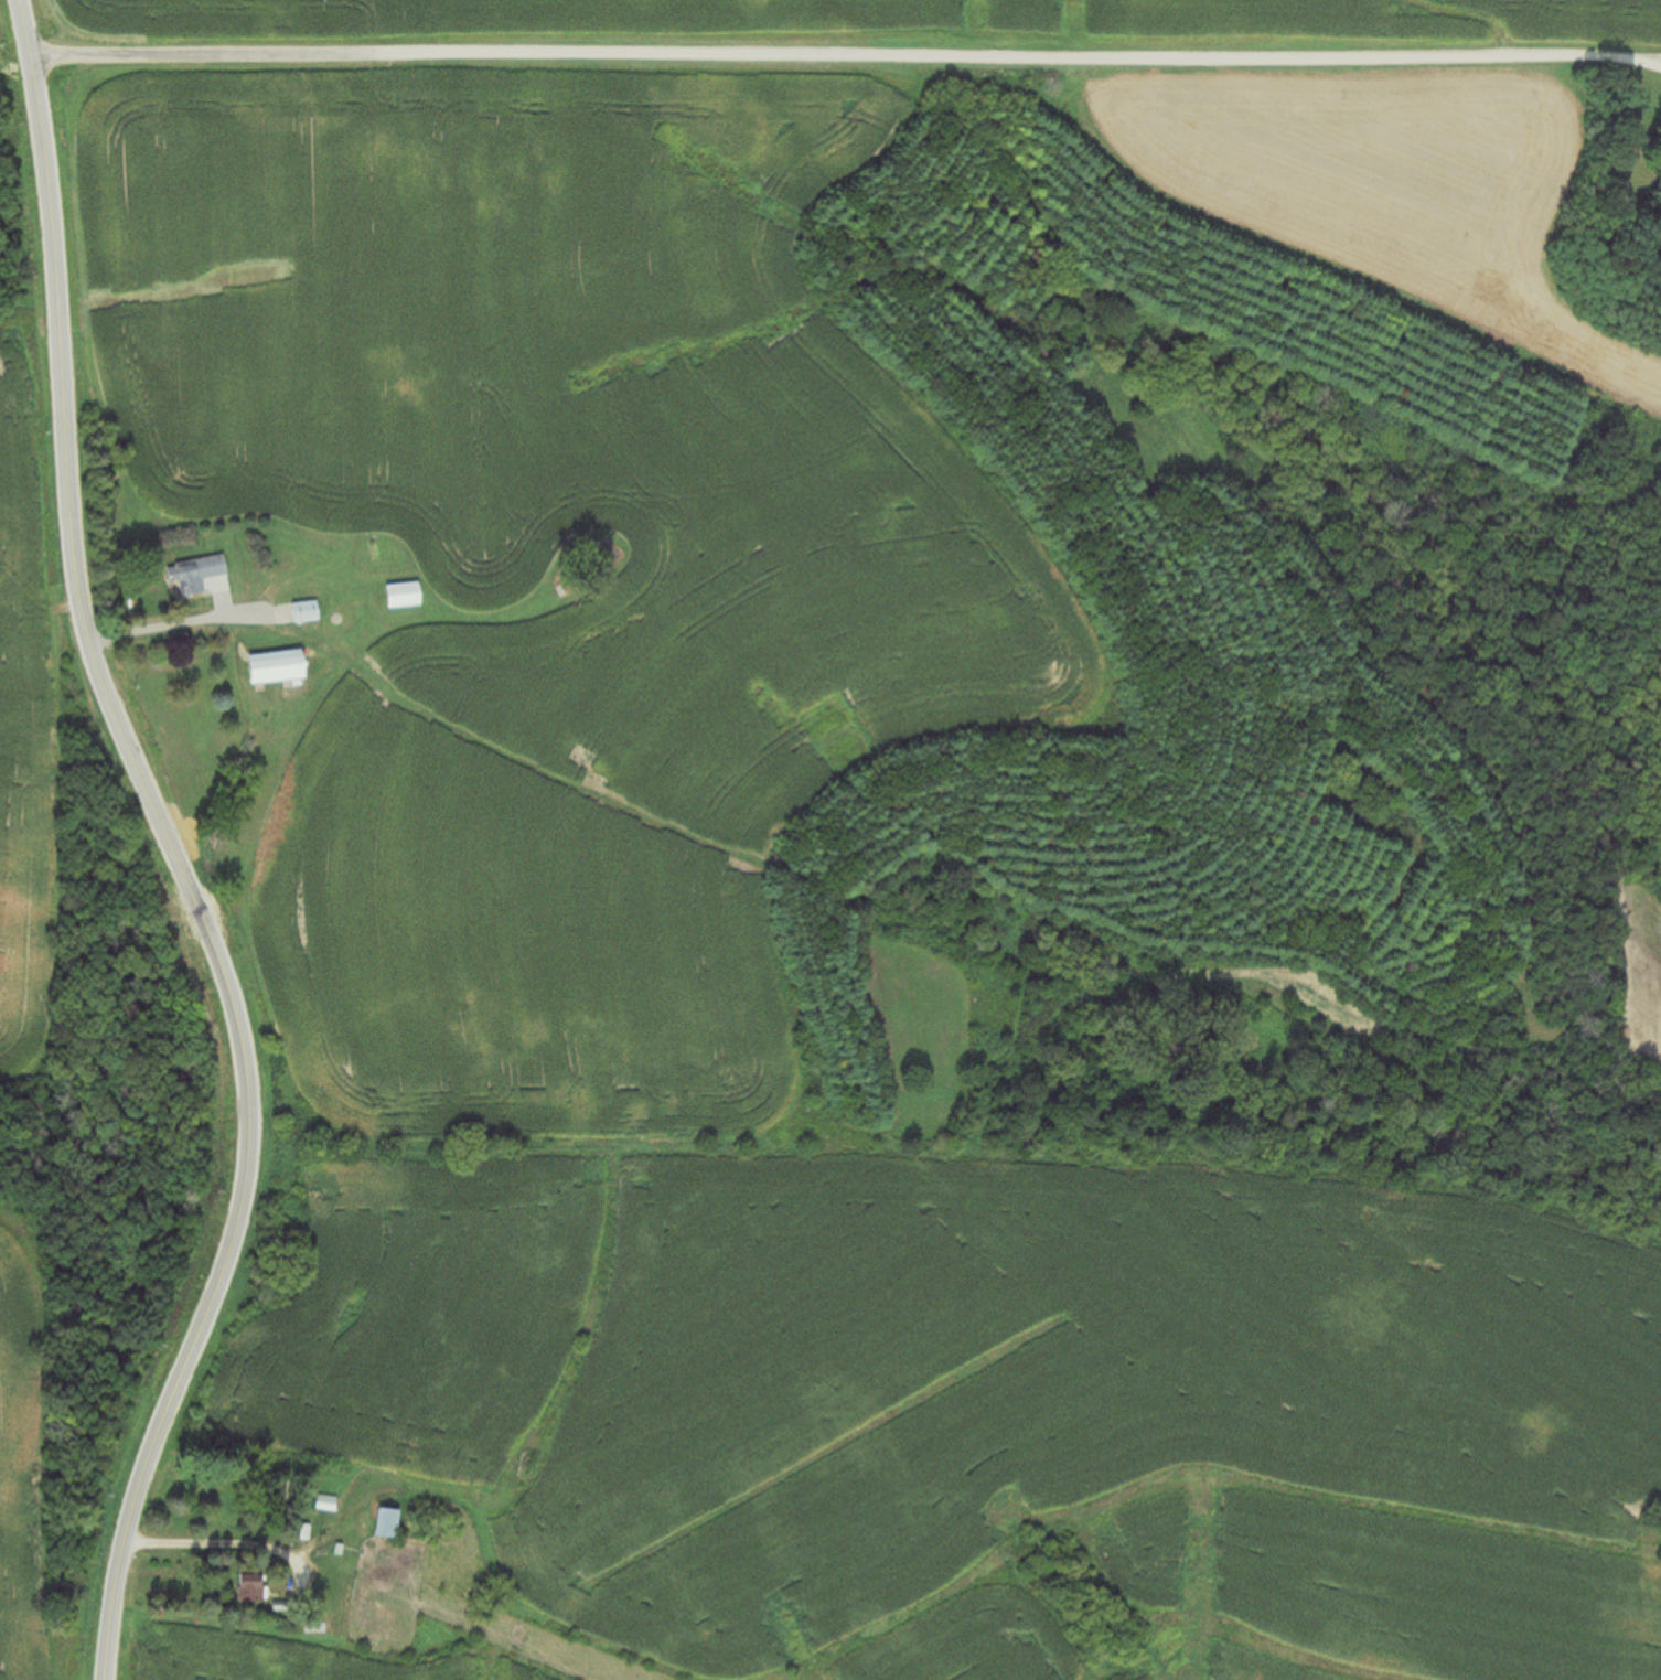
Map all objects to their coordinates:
road: (847, 58)
building: (191, 575)
building: (397, 596)
building: (301, 612)
building: (267, 667)
road: (169, 847)
building: (323, 1504)
building: (381, 1524)
building: (248, 1590)

